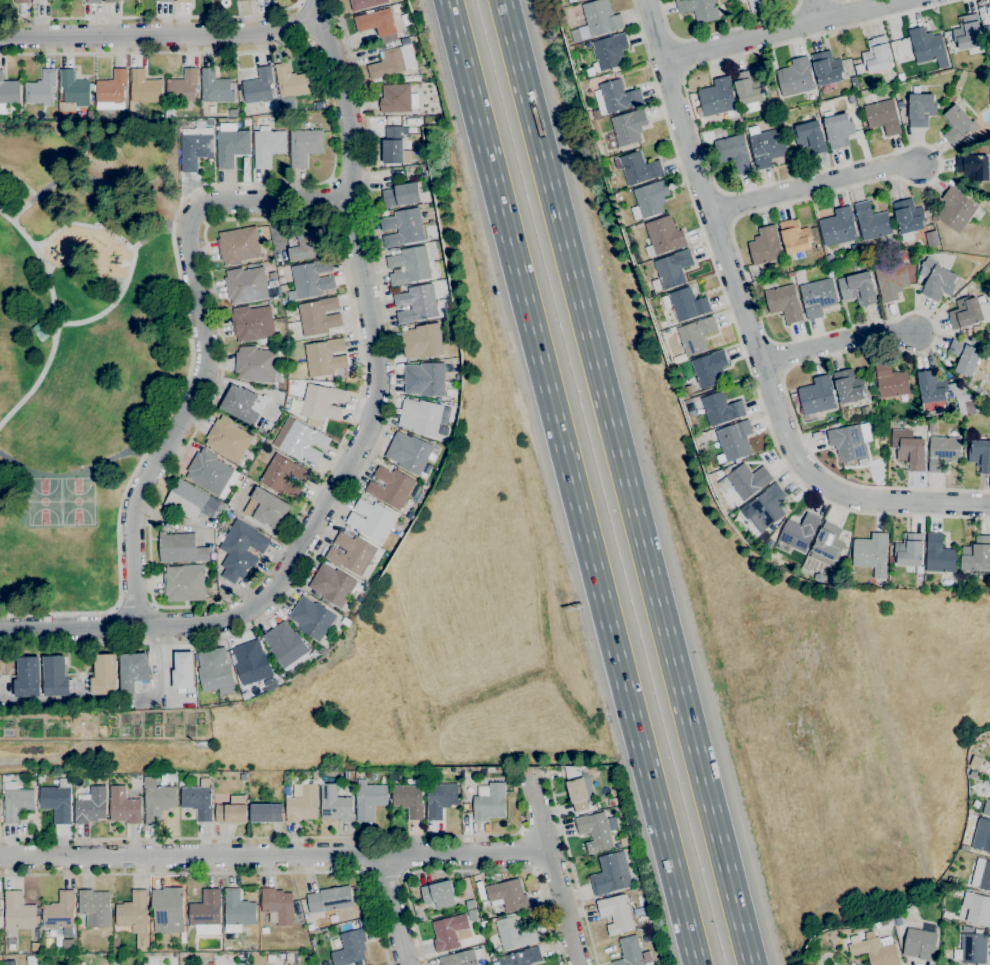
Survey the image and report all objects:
building: (165, 0)
building: (241, 0)
building: (575, 0)
building: (578, 0)
building: (21, 1)
building: (40, 1)
building: (93, 1)
building: (111, 1)
building: (183, 1)
road: (311, 1)
building: (365, 3)
building: (759, 4)
building: (728, 6)
building: (698, 9)
road: (318, 10)
road: (817, 12)
road: (150, 16)
building: (597, 20)
building: (376, 22)
road: (302, 23)
road: (719, 30)
building: (987, 30)
road: (786, 31)
building: (968, 32)
road: (161, 35)
road: (326, 39)
building: (406, 42)
building: (926, 44)
building: (608, 53)
building: (877, 55)
building: (388, 63)
building: (954, 63)
building: (826, 68)
building: (795, 77)
building: (291, 81)
building: (853, 81)
building: (216, 86)
building: (259, 86)
building: (145, 87)
building: (183, 87)
building: (41, 88)
building: (747, 88)
building: (74, 90)
building: (112, 90)
building: (8, 93)
building: (810, 94)
building: (395, 97)
building: (615, 97)
building: (718, 98)
building: (901, 104)
building: (921, 109)
building: (170, 112)
building: (90, 114)
building: (882, 117)
building: (210, 122)
building: (957, 123)
building: (629, 126)
building: (702, 127)
building: (838, 129)
building: (810, 137)
building: (231, 144)
building: (267, 144)
building: (392, 145)
building: (304, 146)
building: (195, 147)
building: (767, 147)
building: (733, 152)
building: (637, 167)
building: (973, 168)
building: (751, 180)
road: (348, 181)
road: (814, 184)
road: (206, 187)
building: (401, 195)
building: (649, 199)
road: (330, 200)
road: (787, 202)
building: (956, 209)
building: (908, 216)
road: (317, 218)
building: (871, 221)
building: (639, 225)
building: (402, 227)
building: (838, 227)
road: (150, 234)
building: (663, 236)
building: (794, 236)
building: (931, 238)
building: (307, 243)
building: (238, 245)
building: (765, 246)
building: (855, 249)
road: (131, 253)
building: (828, 259)
building: (409, 265)
building: (673, 268)
building: (830, 273)
building: (789, 274)
building: (312, 278)
building: (936, 280)
building: (891, 281)
building: (246, 284)
building: (656, 285)
building: (283, 288)
building: (858, 288)
building: (818, 297)
building: (784, 302)
building: (416, 303)
building: (687, 304)
building: (968, 312)
building: (319, 316)
road: (53, 319)
building: (722, 319)
building: (252, 323)
building: (662, 324)
road: (750, 328)
building: (977, 329)
building: (965, 333)
building: (695, 335)
road: (738, 338)
building: (423, 341)
road: (836, 341)
building: (982, 342)
park: (84, 346)
road: (204, 347)
building: (325, 357)
building: (963, 357)
building: (256, 364)
building: (709, 369)
building: (458, 377)
building: (428, 379)
building: (890, 380)
building: (848, 385)
building: (932, 391)
building: (817, 395)
building: (964, 399)
building: (322, 402)
building: (244, 404)
building: (720, 408)
building: (422, 416)
building: (228, 438)
building: (705, 438)
building: (300, 440)
building: (734, 440)
building: (850, 442)
building: (909, 448)
road: (355, 451)
building: (409, 451)
building: (943, 452)
building: (980, 454)
road: (372, 455)
building: (726, 470)
road: (79, 472)
building: (209, 472)
building: (285, 475)
building: (745, 481)
road: (570, 482)
road: (625, 482)
building: (391, 487)
building: (419, 498)
building: (192, 501)
park: (58, 502)
building: (767, 507)
building: (266, 508)
building: (371, 519)
building: (772, 528)
building: (797, 533)
building: (768, 543)
building: (827, 543)
building: (181, 549)
building: (241, 550)
building: (909, 550)
building: (352, 553)
building: (871, 553)
building: (977, 554)
building: (939, 555)
building: (890, 558)
building: (918, 579)
building: (184, 584)
building: (332, 585)
building: (361, 599)
road: (135, 601)
building: (357, 605)
building: (312, 618)
building: (345, 621)
road: (104, 628)
building: (286, 646)
building: (323, 650)
building: (251, 662)
building: (214, 669)
building: (183, 670)
building: (135, 673)
building: (105, 675)
building: (55, 676)
building: (28, 677)
road: (105, 759)
building: (976, 762)
building: (305, 774)
building: (315, 775)
building: (972, 775)
road: (546, 776)
building: (173, 777)
building: (243, 777)
building: (384, 780)
building: (182, 781)
building: (579, 788)
building: (369, 799)
building: (440, 799)
building: (198, 800)
building: (409, 800)
building: (57, 801)
building: (158, 801)
building: (612, 801)
building: (302, 802)
building: (489, 802)
building: (17, 804)
building: (334, 804)
building: (91, 805)
building: (124, 806)
building: (986, 807)
building: (233, 810)
building: (266, 813)
building: (596, 830)
building: (982, 836)
road: (289, 837)
building: (624, 842)
building: (965, 847)
road: (274, 854)
road: (553, 869)
road: (572, 870)
road: (472, 871)
road: (228, 872)
building: (981, 874)
building: (609, 876)
building: (951, 880)
building: (438, 893)
building: (508, 896)
building: (330, 899)
building: (484, 903)
building: (277, 906)
building: (95, 908)
road: (393, 909)
building: (977, 909)
building: (912, 910)
building: (18, 911)
building: (169, 911)
building: (237, 911)
building: (61, 912)
building: (134, 912)
building: (206, 913)
building: (616, 913)
building: (472, 914)
building: (944, 915)
building: (878, 924)
building: (900, 927)
building: (264, 930)
building: (450, 932)
building: (514, 933)
building: (893, 934)
building: (921, 942)
building: (971, 947)
building: (350, 948)
building: (629, 952)
building: (875, 952)
building: (281, 956)
building: (271, 957)
building: (289, 957)
building: (465, 957)
building: (521, 957)
building: (10, 963)
building: (852, 964)

